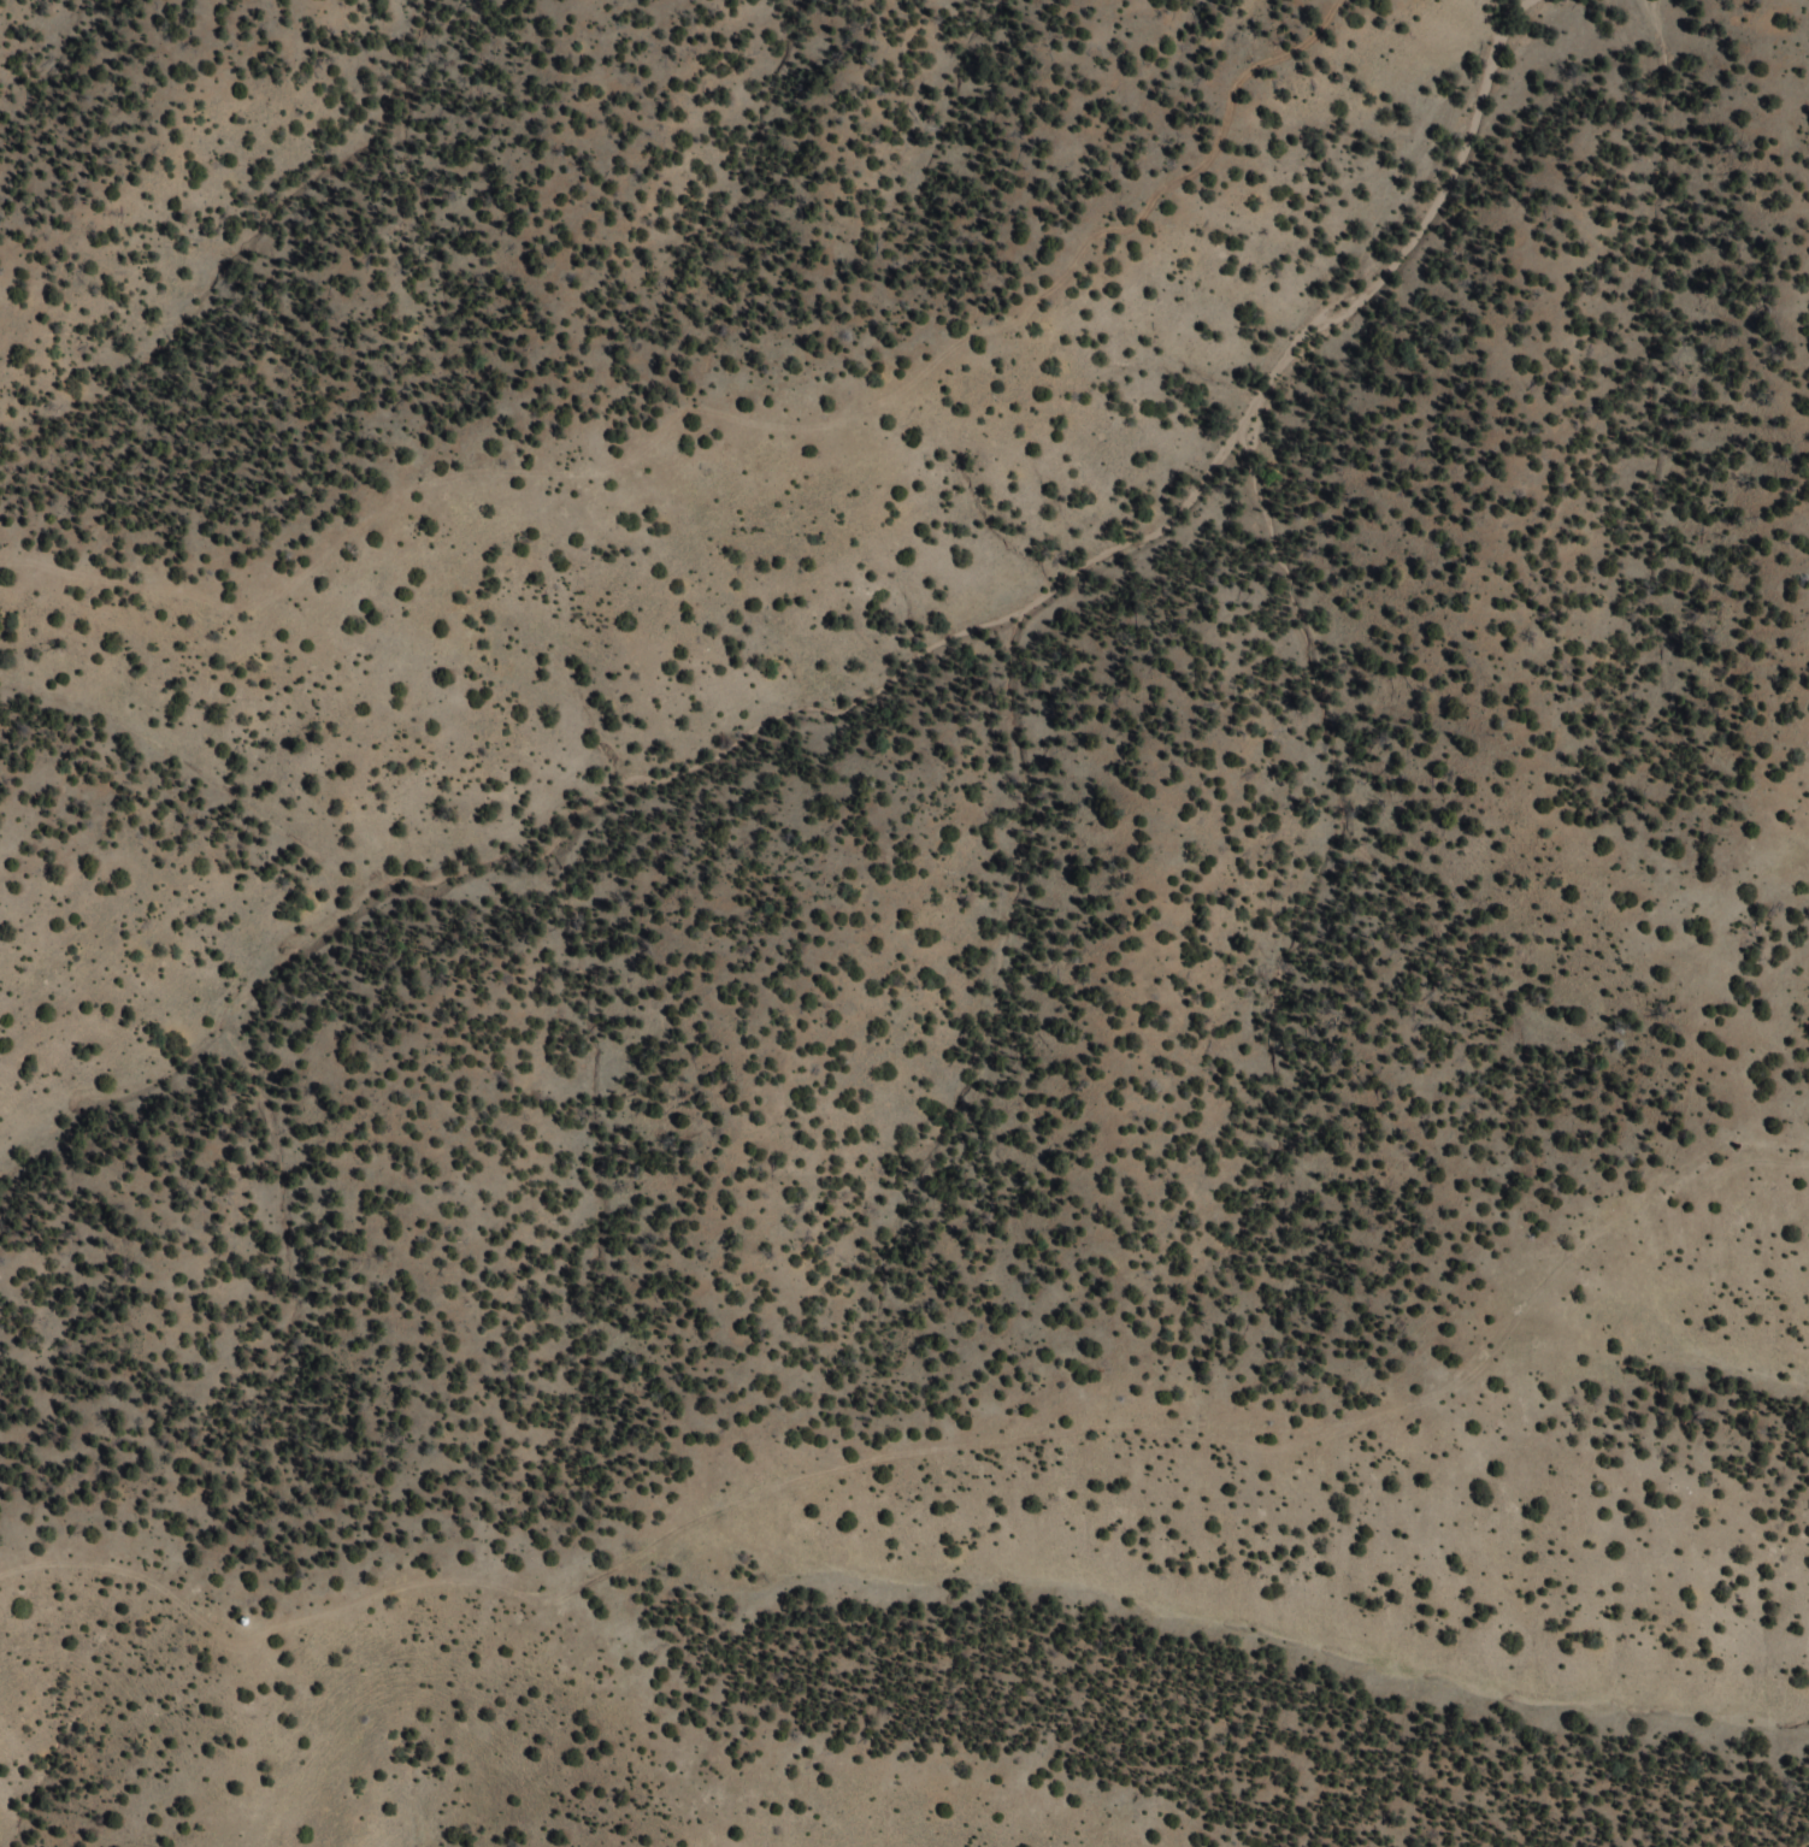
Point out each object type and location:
road: (718, 418)
road: (920, 1456)

